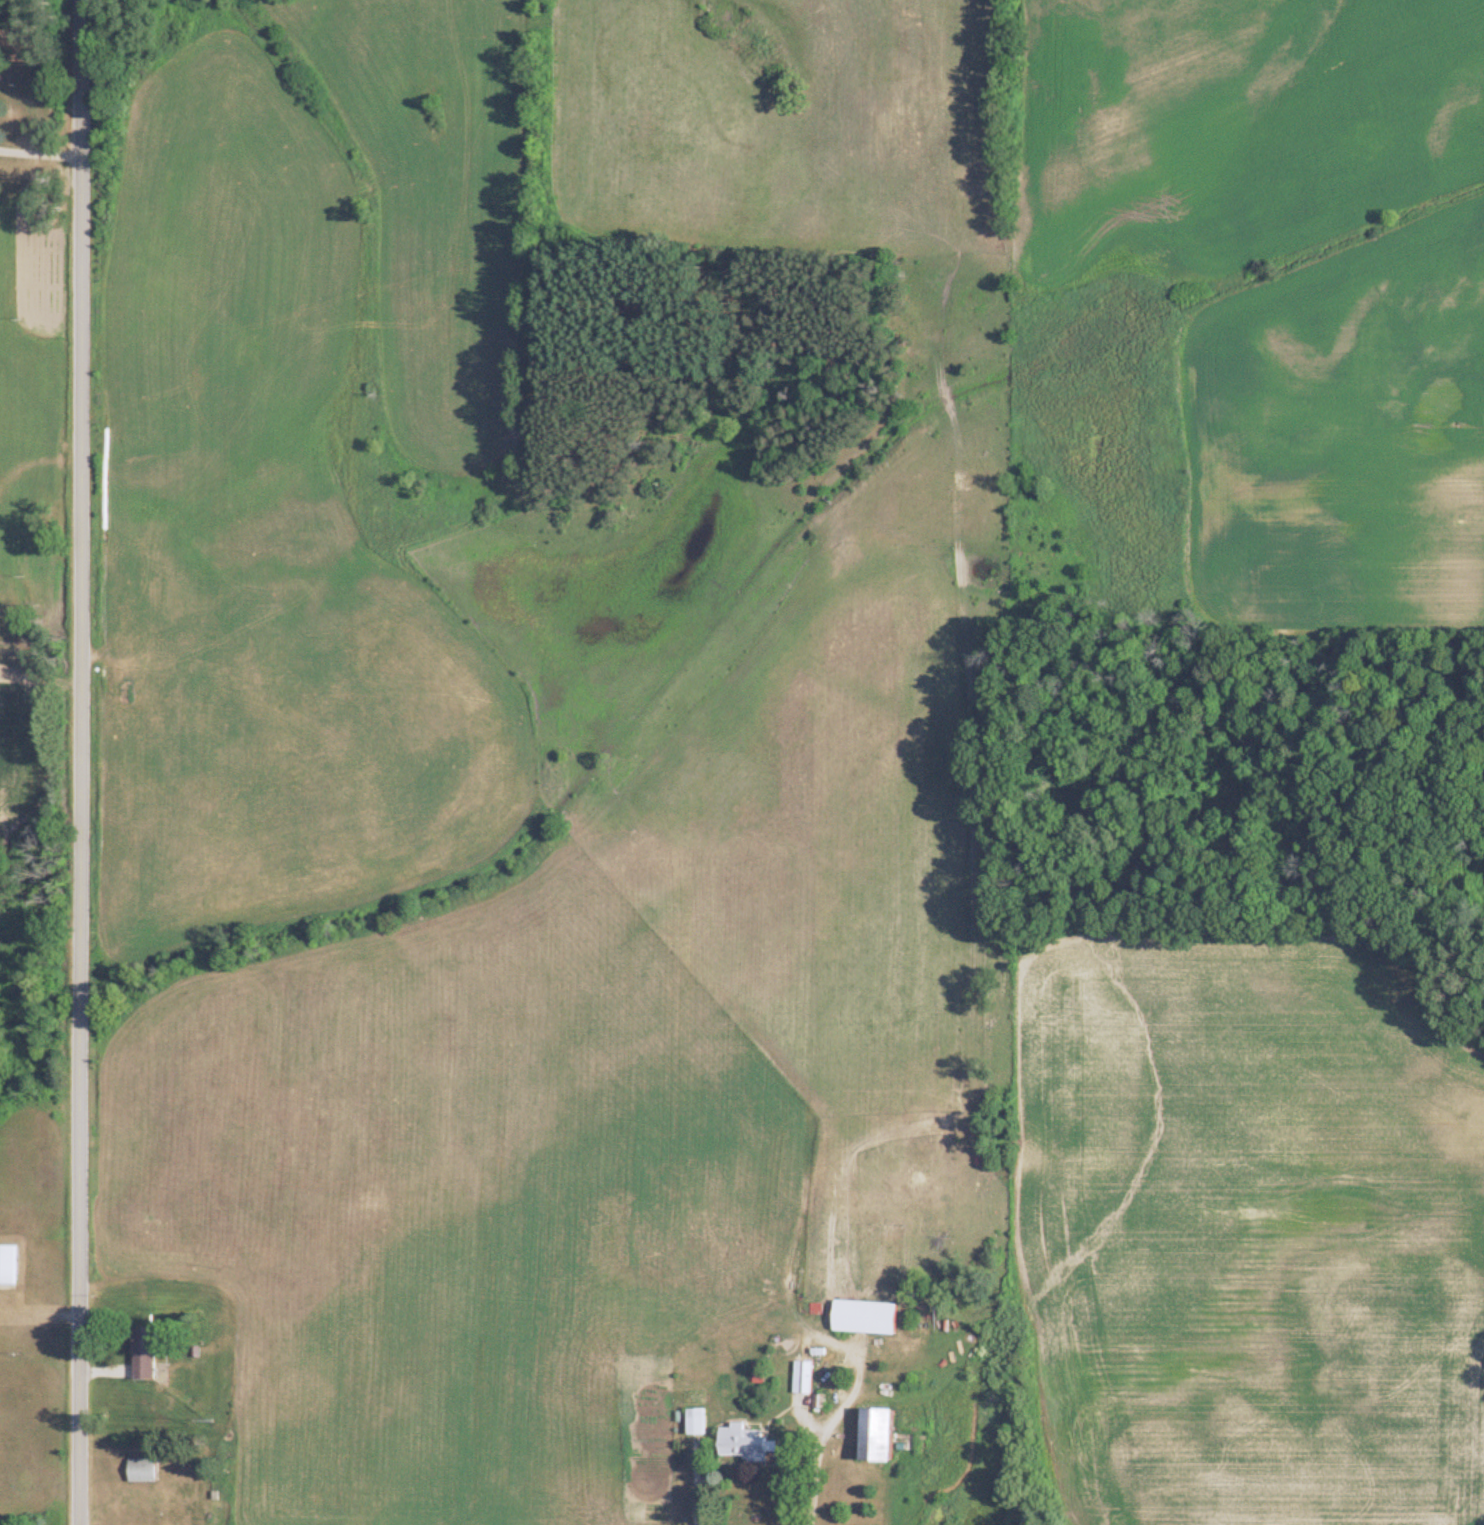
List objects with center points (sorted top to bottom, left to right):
road: (35, 150)
road: (77, 762)
building: (7, 1265)
building: (859, 1317)
building: (141, 1354)
building: (798, 1377)
building: (755, 1379)
building: (693, 1422)
building: (869, 1434)
building: (742, 1444)
road: (818, 1446)
building: (139, 1470)
road: (698, 1485)

